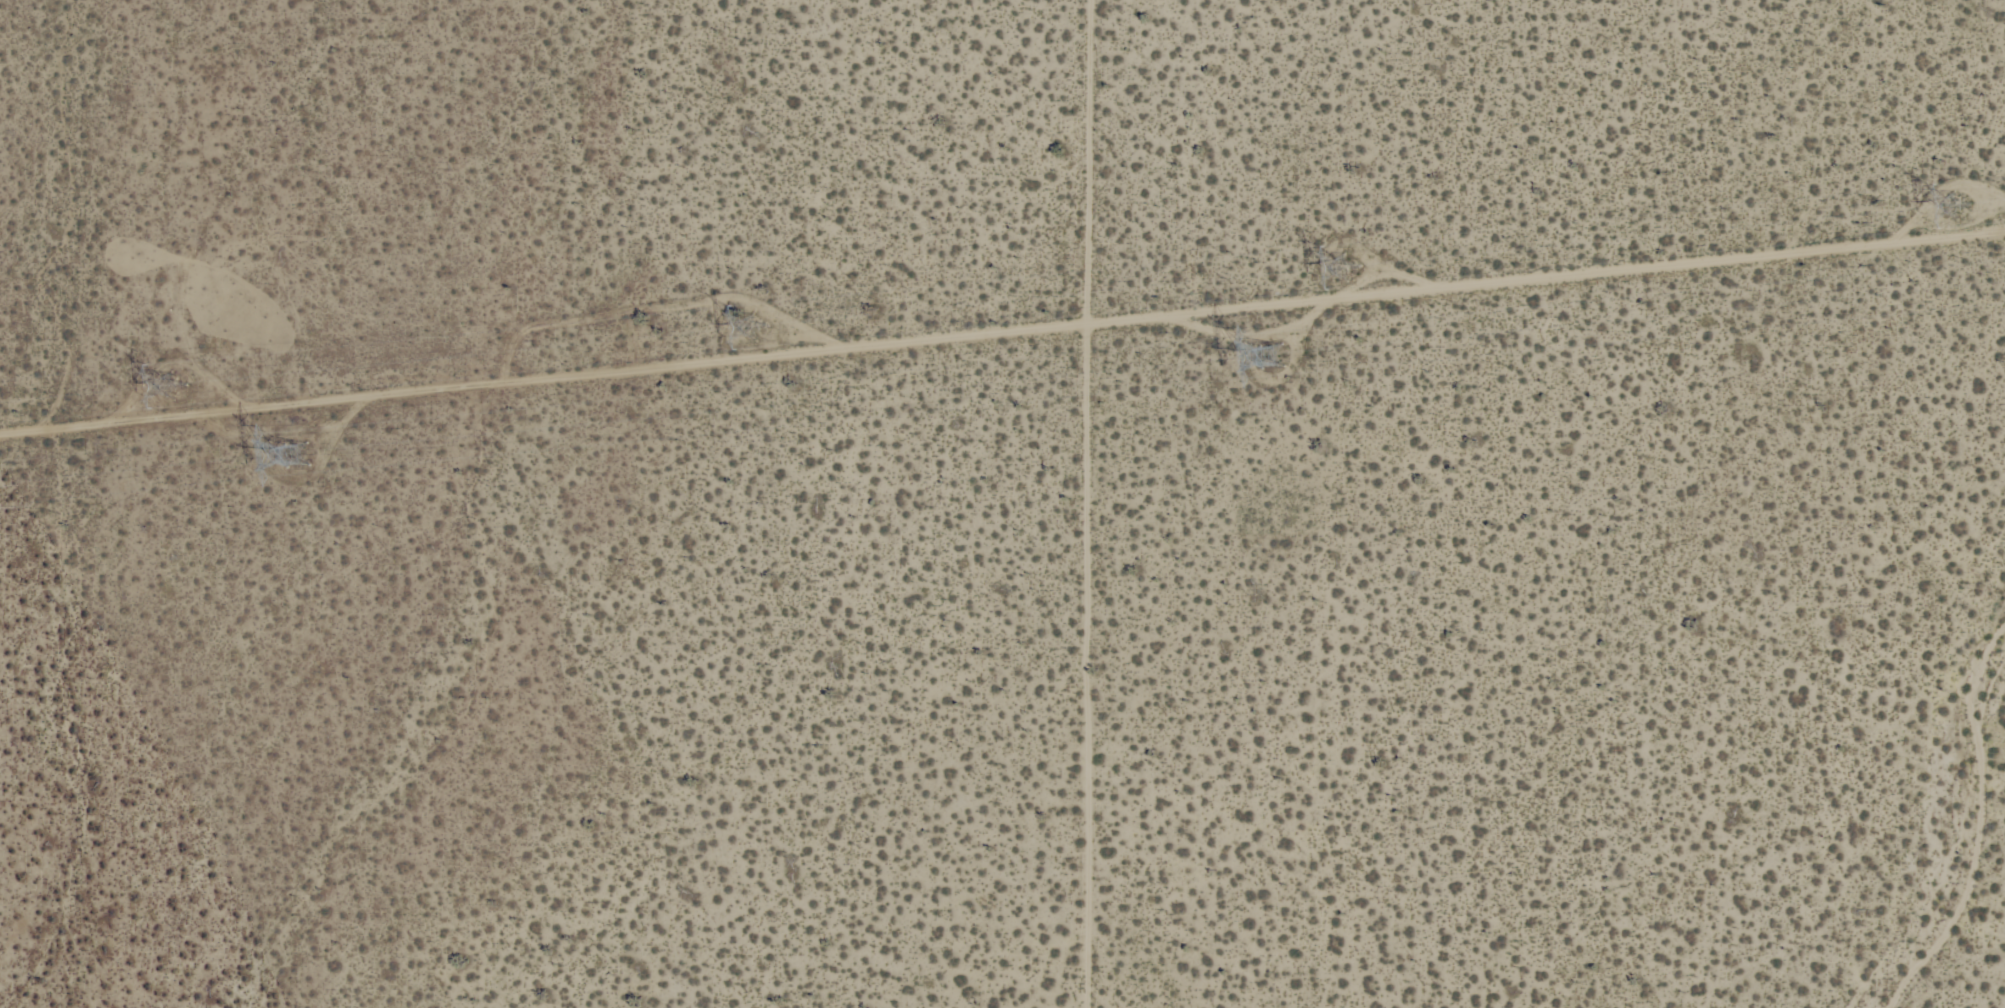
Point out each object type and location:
power tower: (1958, 214)
power tower: (1342, 274)
road: (1002, 330)
power tower: (719, 334)
power tower: (1259, 354)
power tower: (166, 386)
power tower: (275, 443)
road: (1084, 503)

